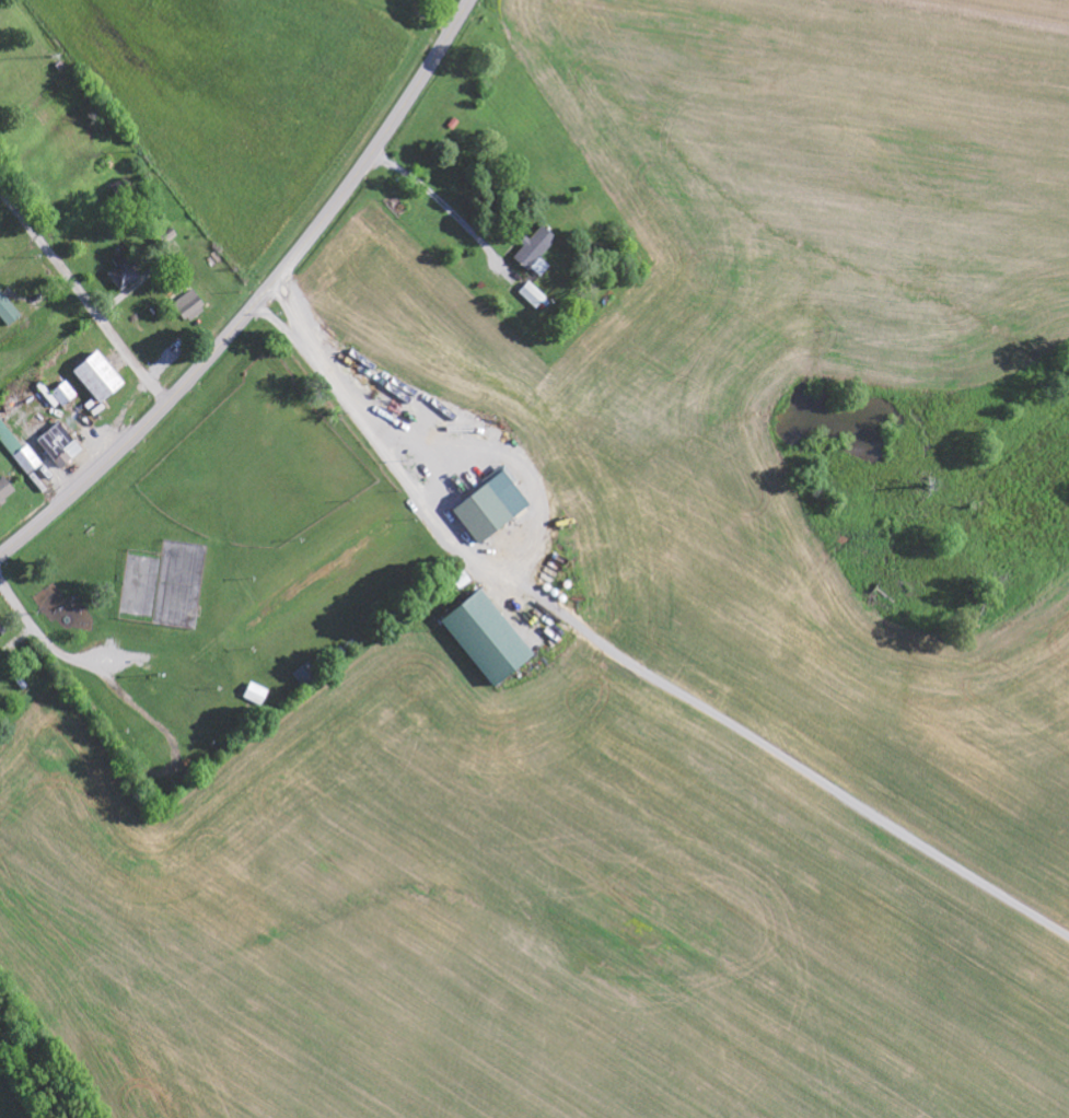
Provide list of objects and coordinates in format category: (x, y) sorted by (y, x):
building: (124, 188)
road: (330, 210)
building: (533, 243)
building: (120, 268)
building: (532, 293)
road: (83, 298)
building: (187, 299)
building: (8, 306)
building: (96, 372)
building: (62, 388)
building: (18, 444)
building: (61, 445)
road: (85, 482)
building: (4, 484)
building: (487, 502)
building: (463, 580)
road: (31, 621)
building: (2, 631)
building: (481, 631)
building: (306, 675)
building: (254, 688)
road: (164, 771)
road: (925, 1070)

